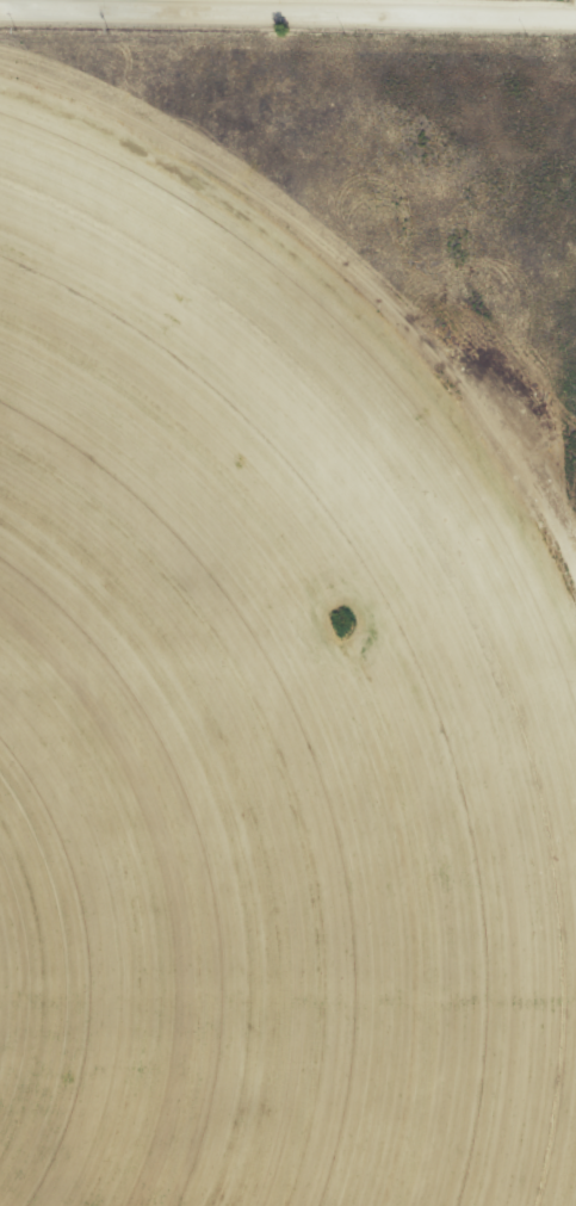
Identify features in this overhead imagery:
road: (287, 4)

